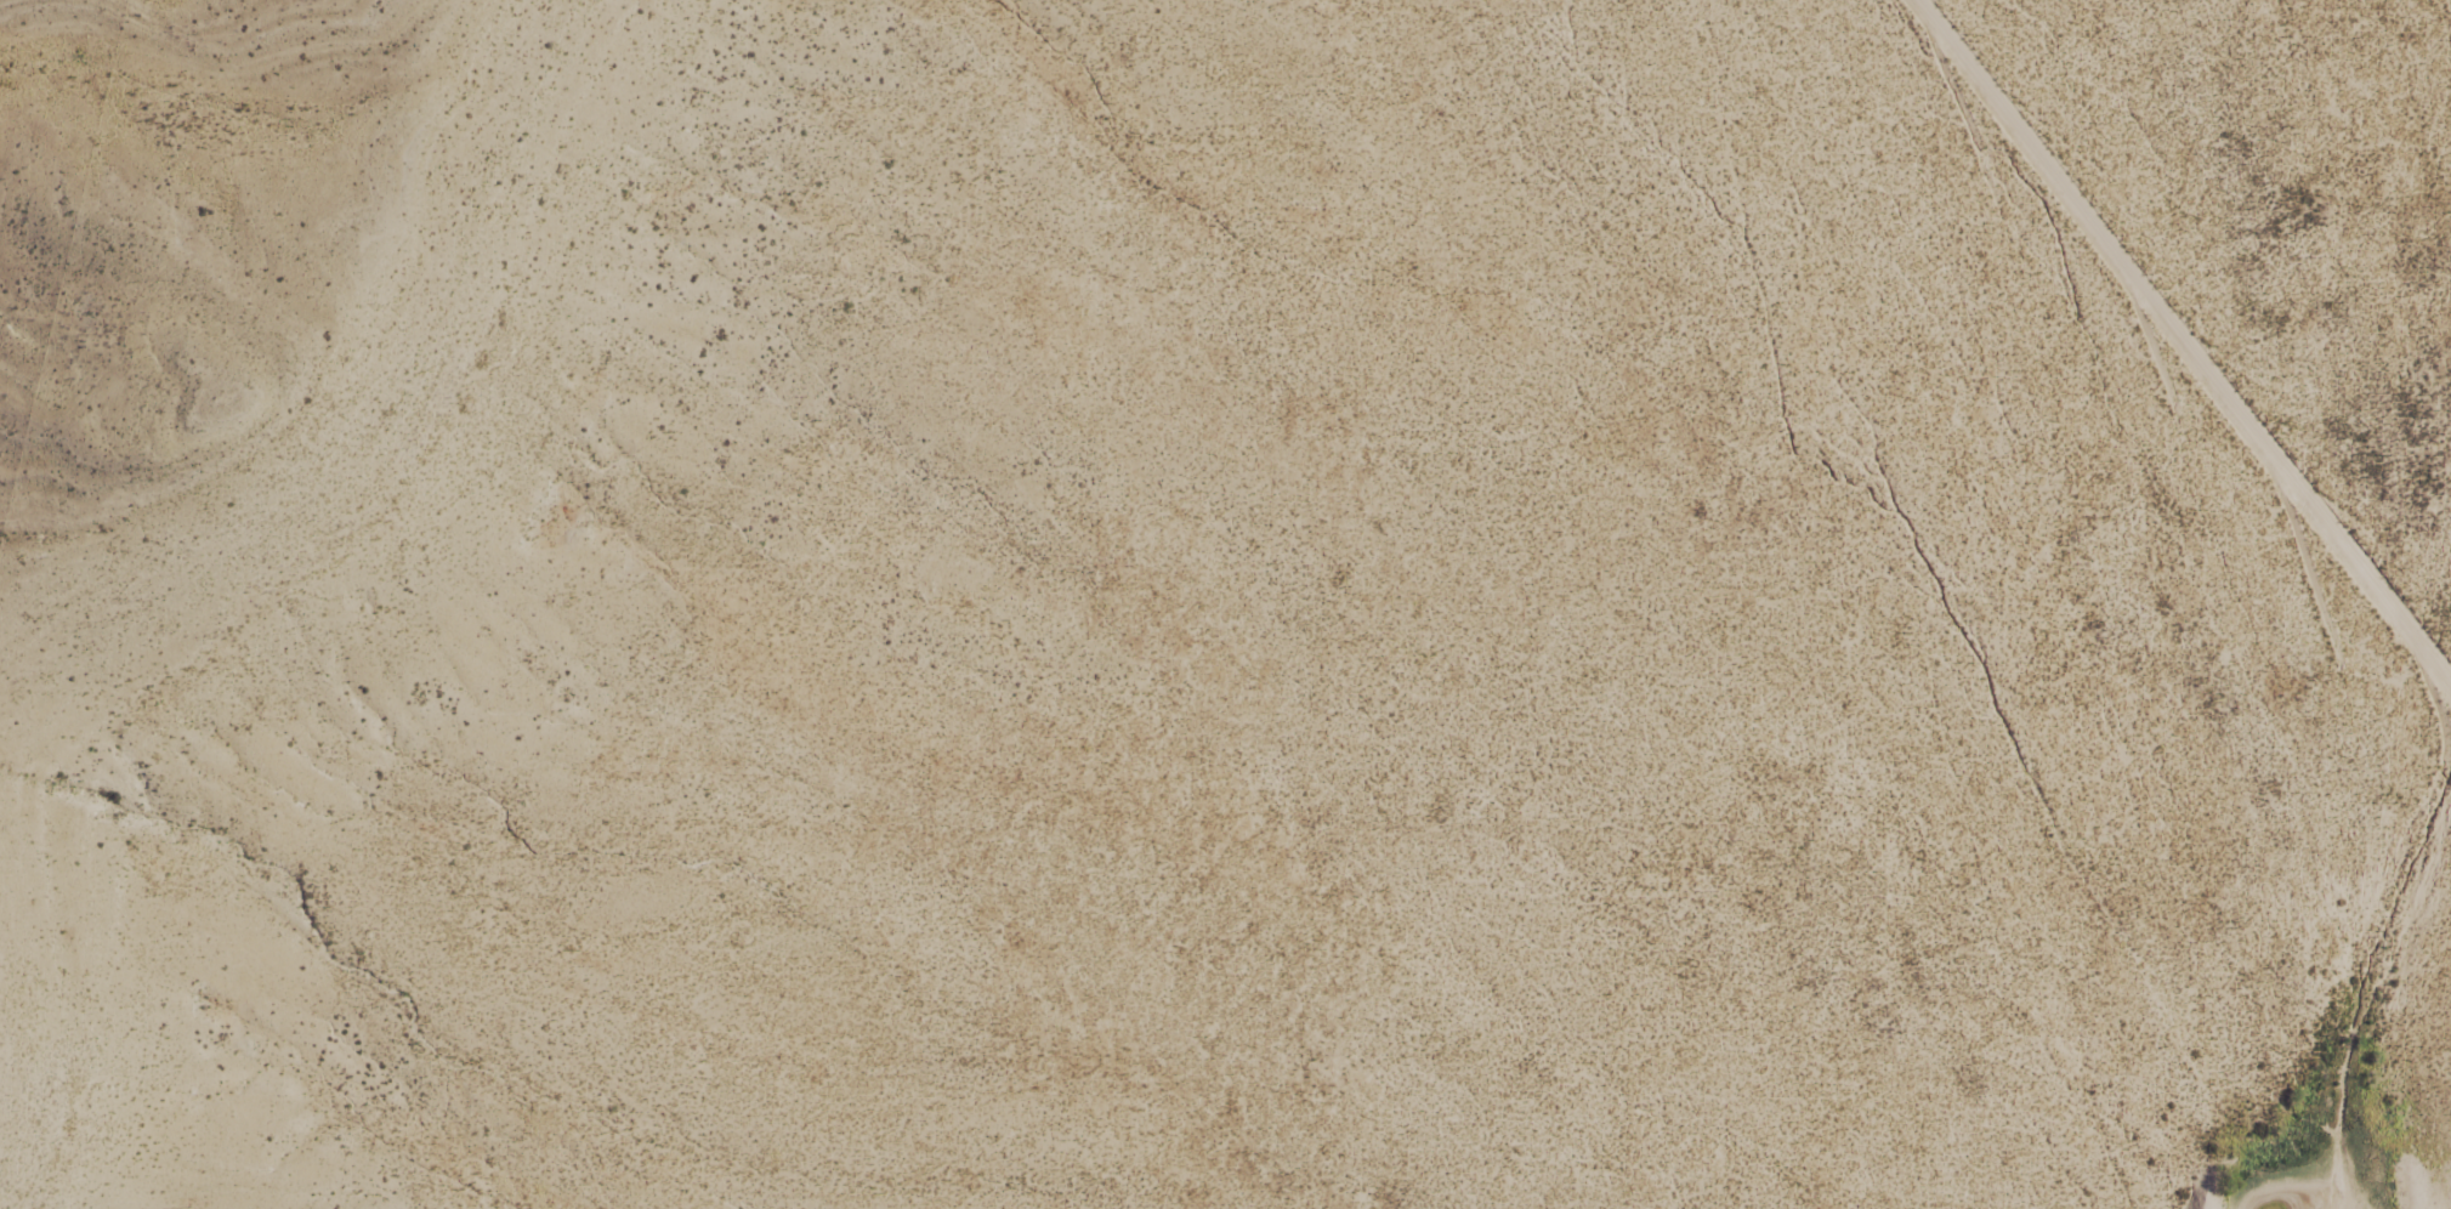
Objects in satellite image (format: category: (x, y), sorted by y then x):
road: (2179, 347)

